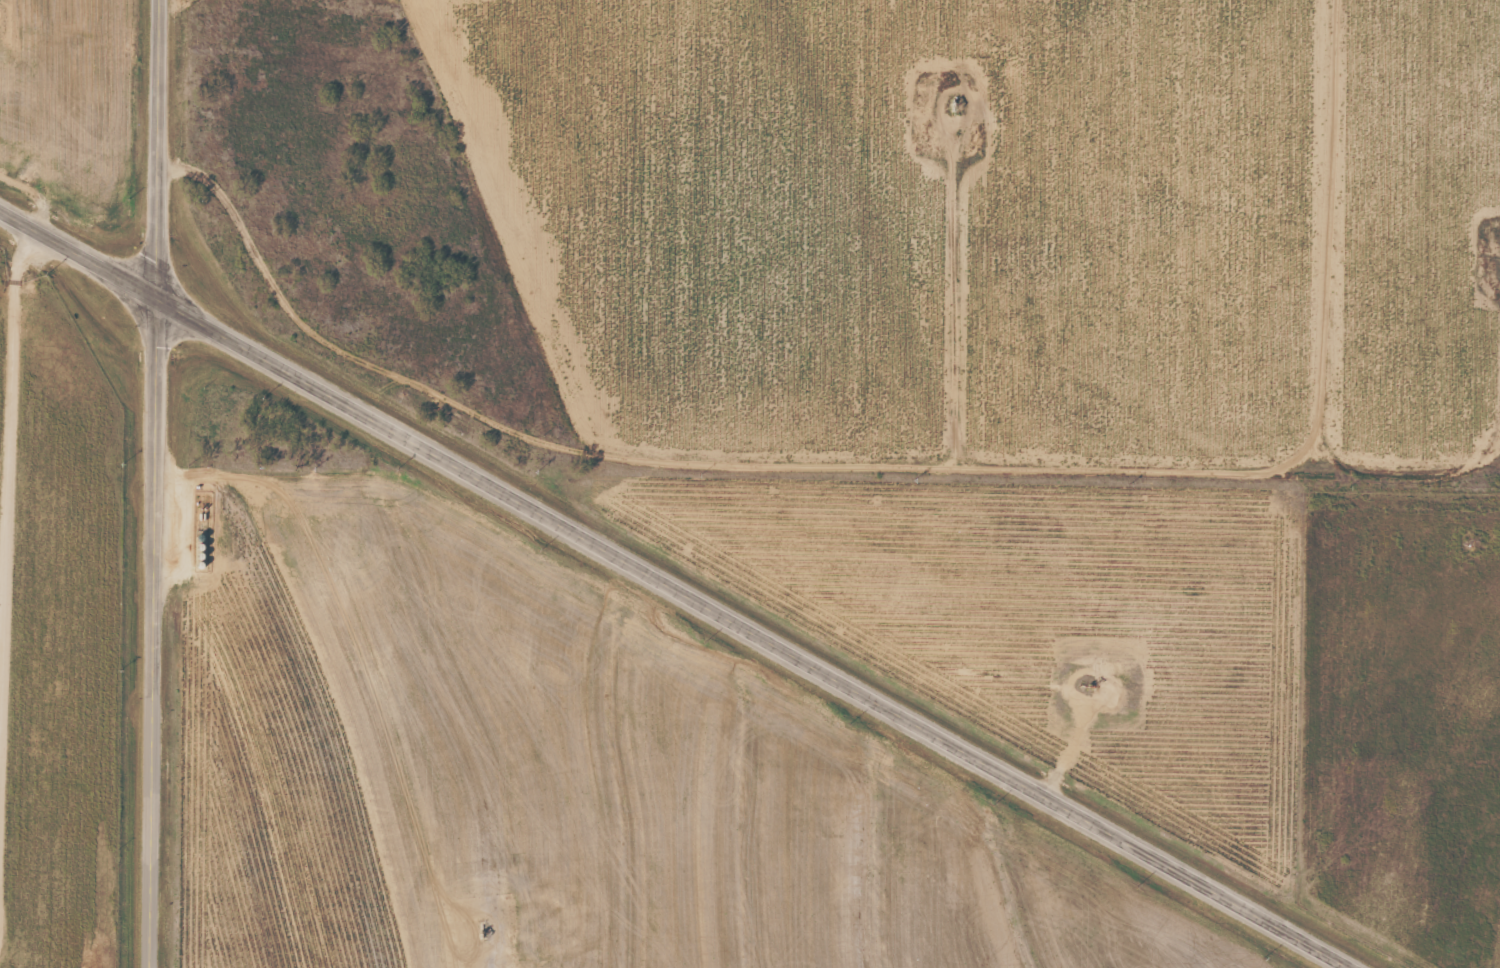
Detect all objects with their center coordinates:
road: (156, 484)
road: (675, 589)
road: (496, 626)

